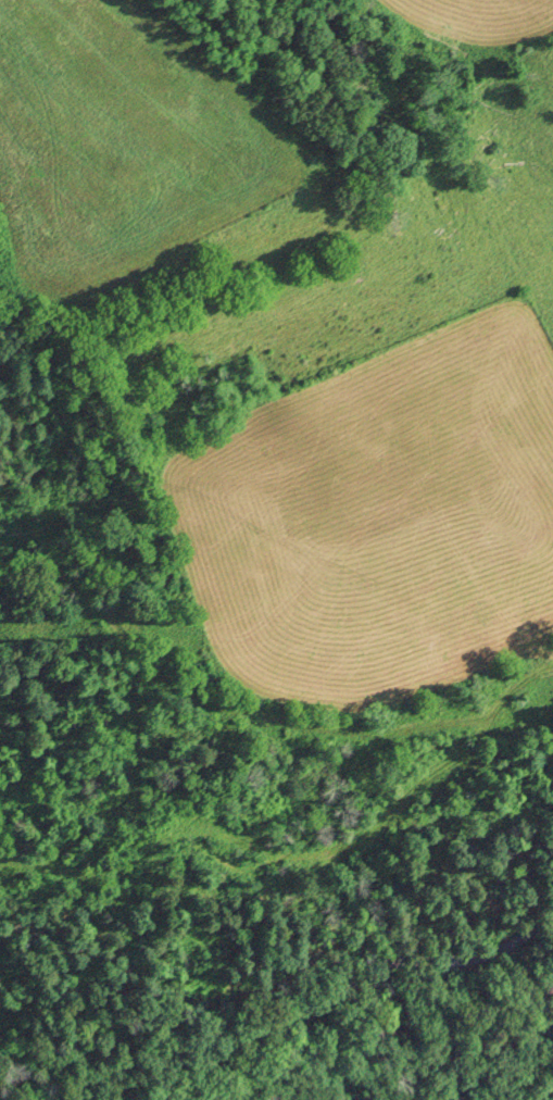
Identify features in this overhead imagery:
road: (303, 1001)

